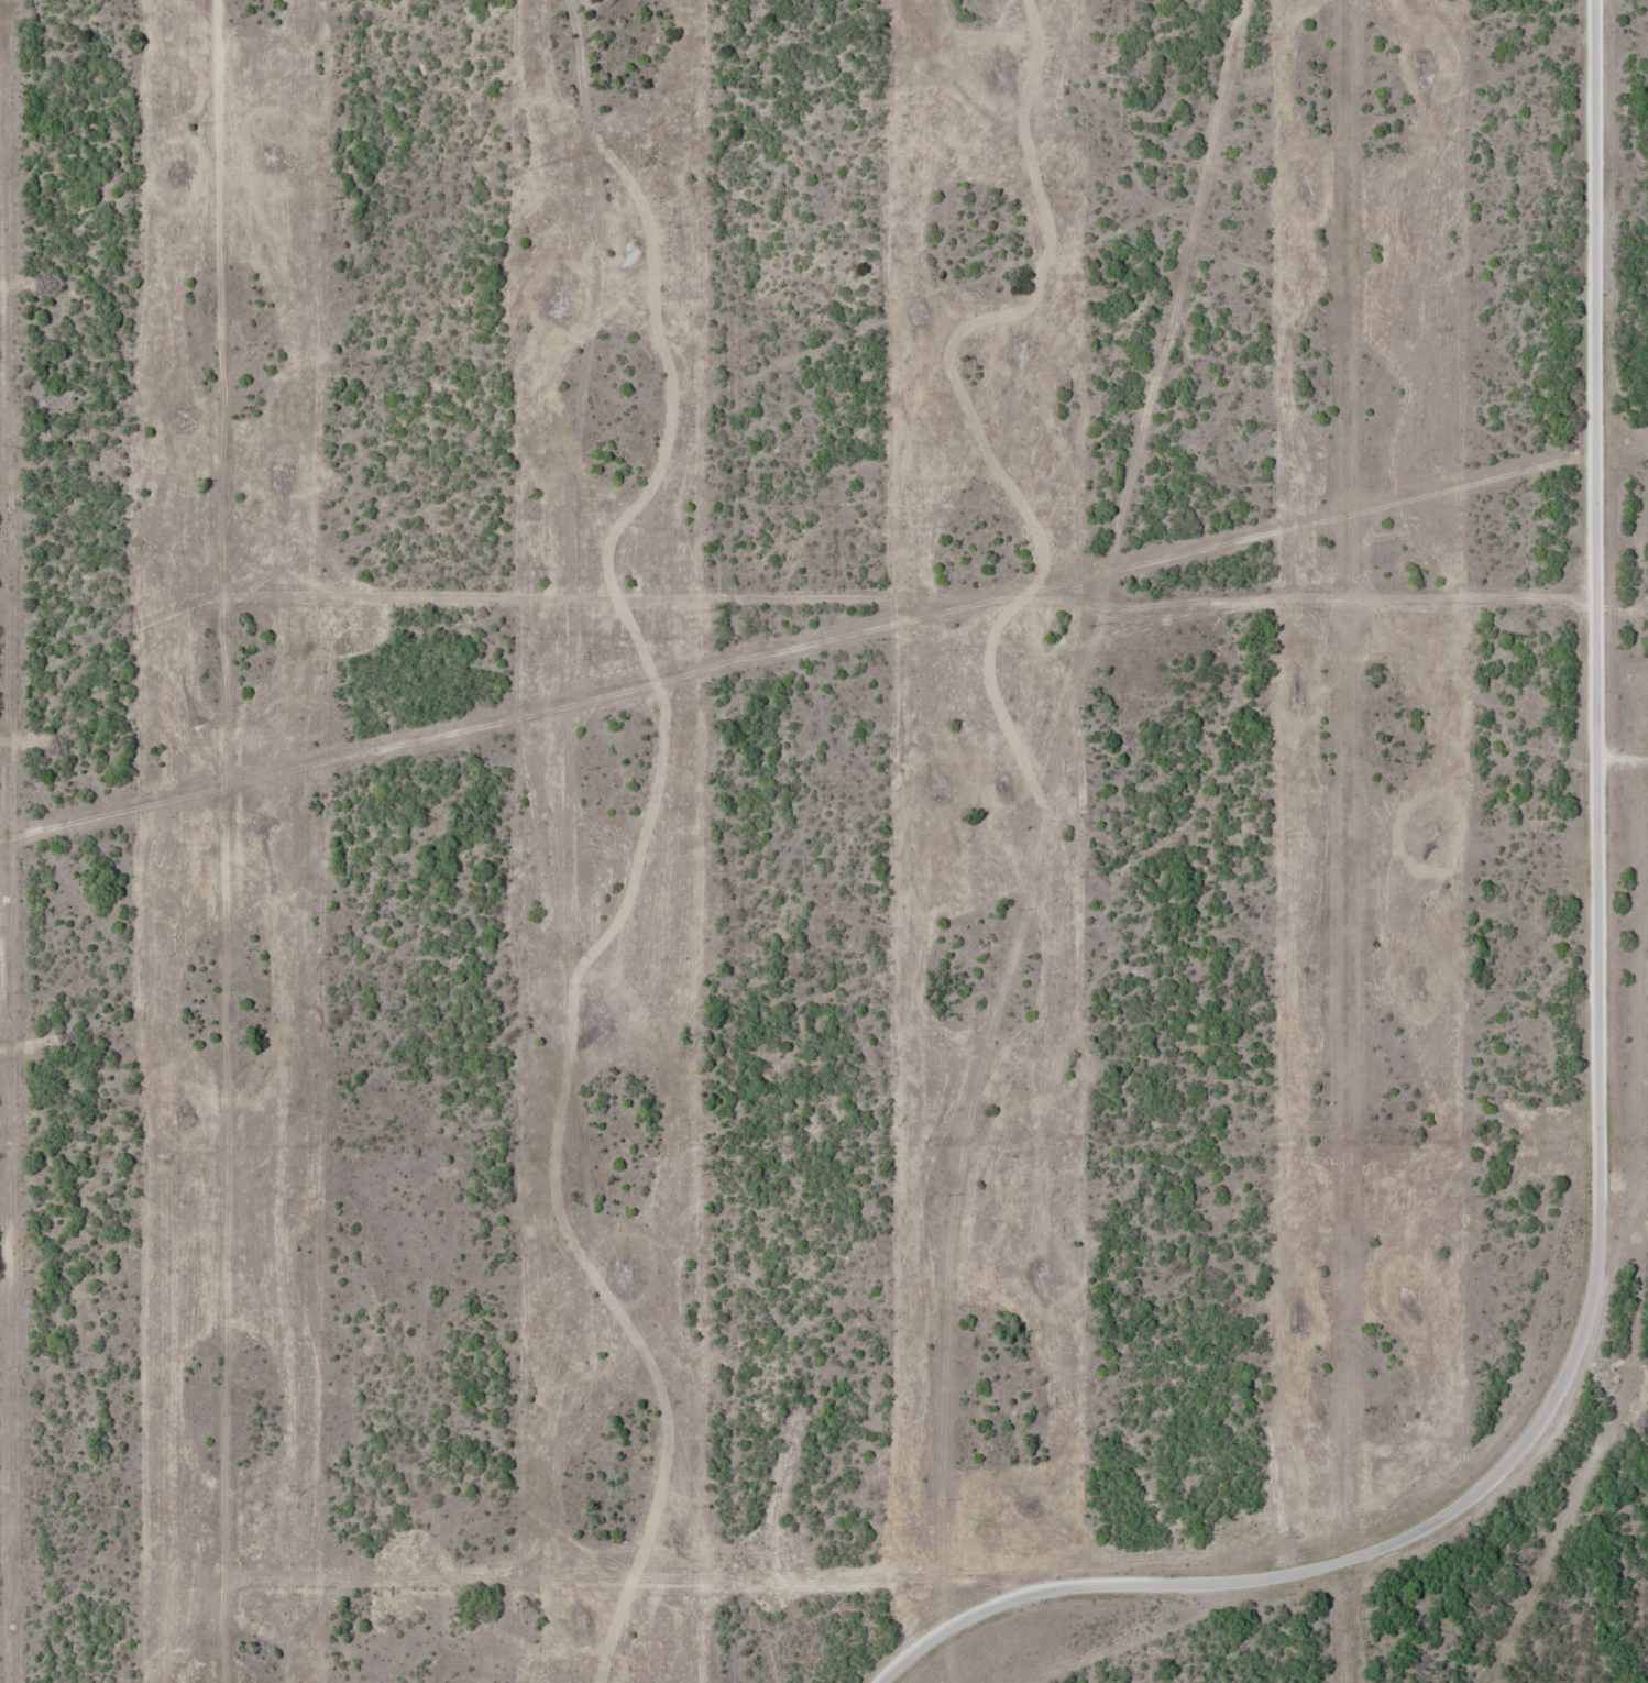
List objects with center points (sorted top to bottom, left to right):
road: (1612, 1015)
road: (936, 1638)

